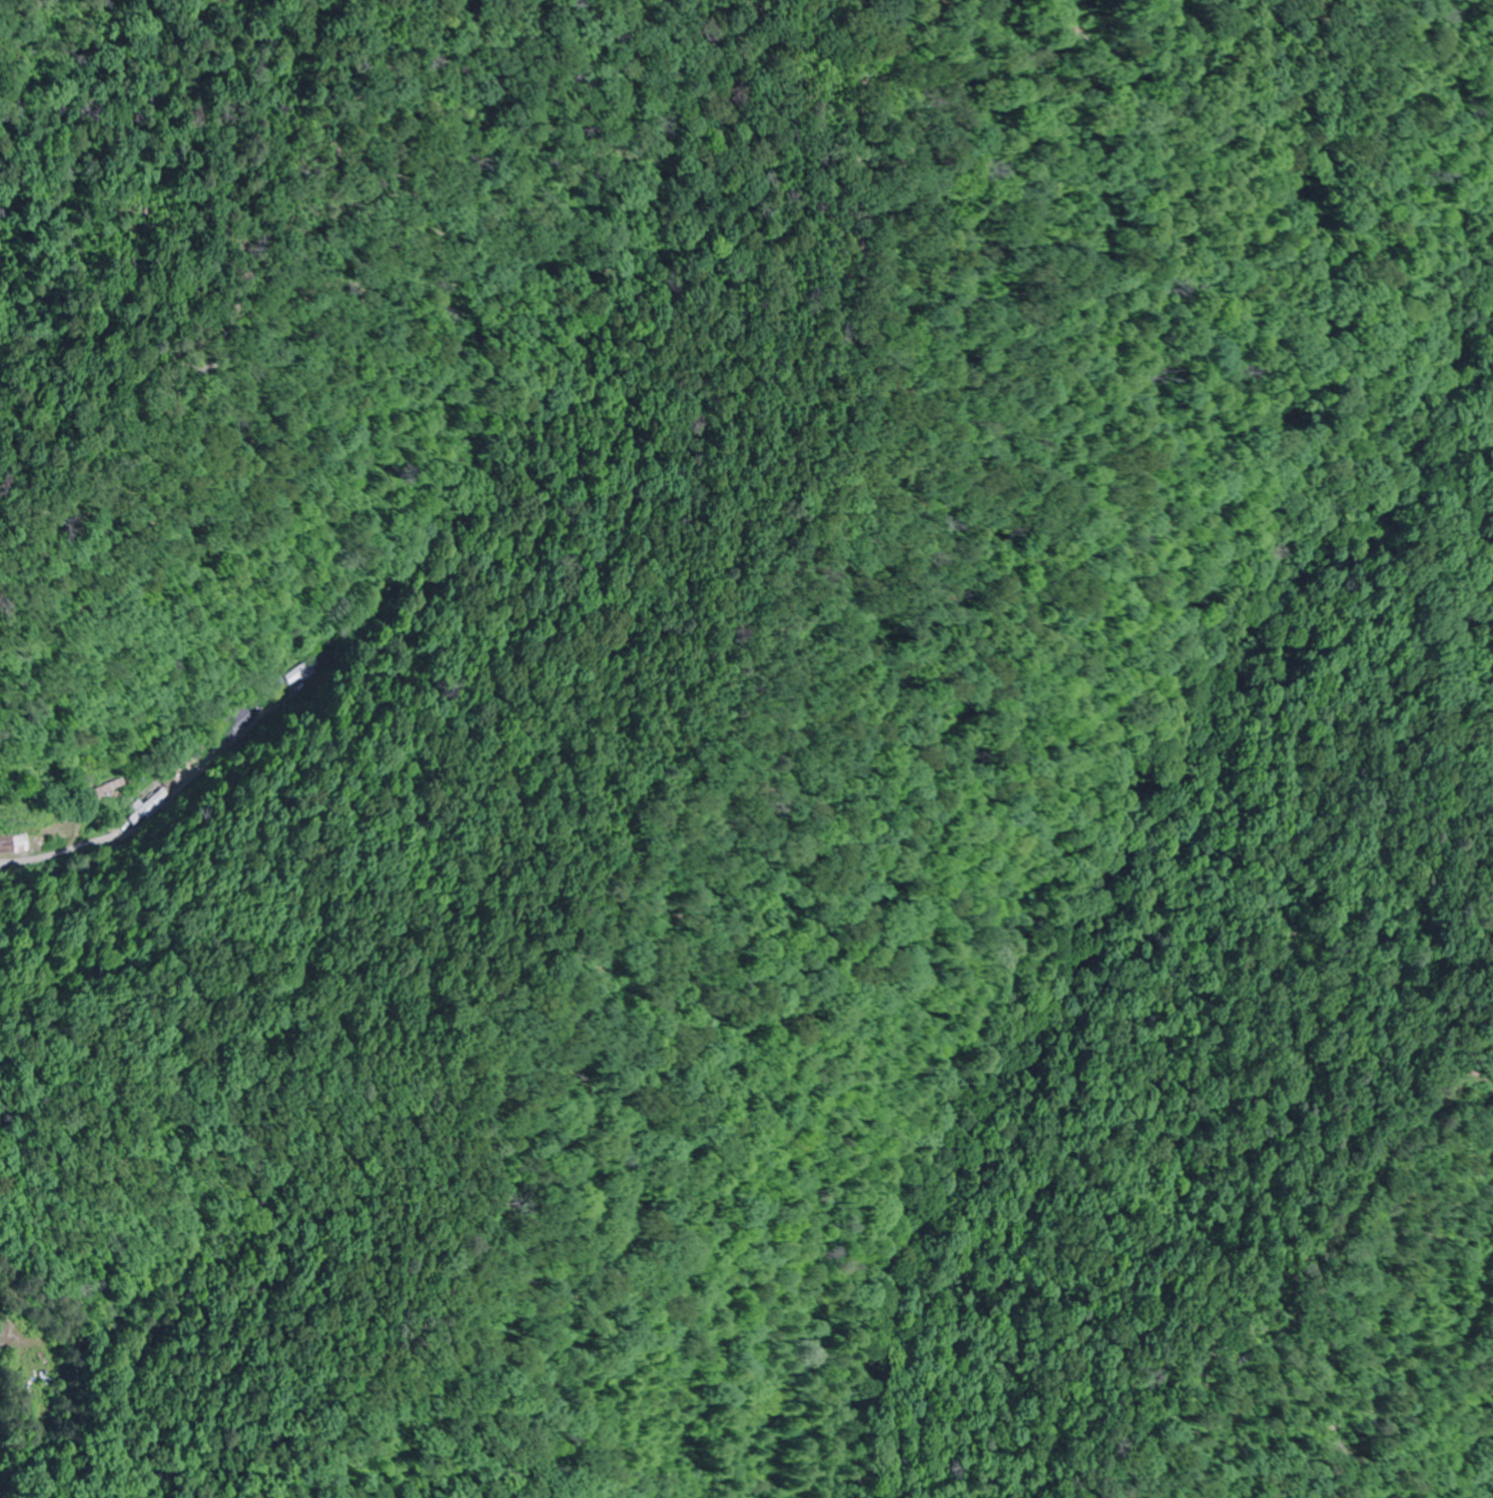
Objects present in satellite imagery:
building: (296, 668)
building: (235, 720)
building: (144, 805)
road: (322, 822)
building: (12, 844)

